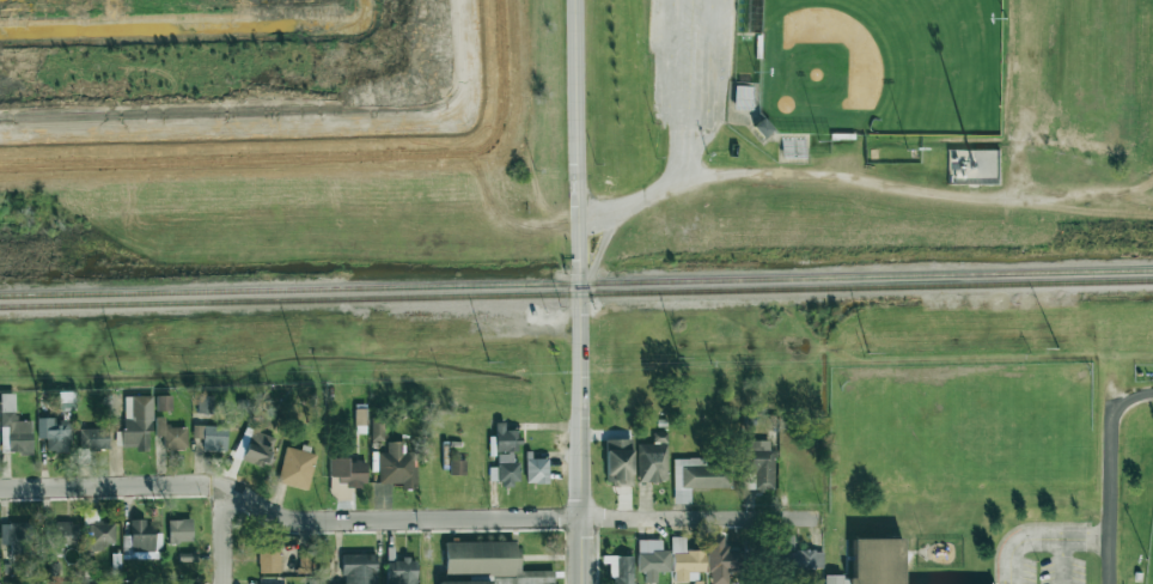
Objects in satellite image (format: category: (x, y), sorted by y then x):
park: (880, 67)
road: (693, 90)
road: (793, 172)
road: (1086, 203)
railway: (576, 284)
road: (578, 292)
railway: (575, 294)
building: (164, 402)
building: (205, 404)
building: (360, 416)
building: (135, 422)
building: (159, 426)
building: (13, 427)
building: (54, 433)
building: (211, 433)
building: (175, 437)
building: (93, 438)
building: (255, 446)
building: (505, 457)
building: (652, 461)
building: (618, 462)
building: (762, 466)
building: (397, 467)
building: (295, 468)
building: (537, 470)
building: (349, 472)
park: (1139, 472)
building: (701, 474)
road: (1108, 474)
road: (402, 519)
building: (179, 530)
building: (66, 533)
building: (96, 533)
building: (16, 536)
road: (220, 537)
road: (1039, 539)
building: (141, 541)
building: (652, 559)
building: (685, 560)
building: (720, 560)
building: (799, 560)
building: (876, 560)
building: (269, 561)
road: (1061, 561)
park: (1149, 561)
building: (115, 562)
building: (489, 564)
building: (359, 568)
building: (620, 568)
building: (401, 571)
building: (0, 577)
building: (835, 579)

